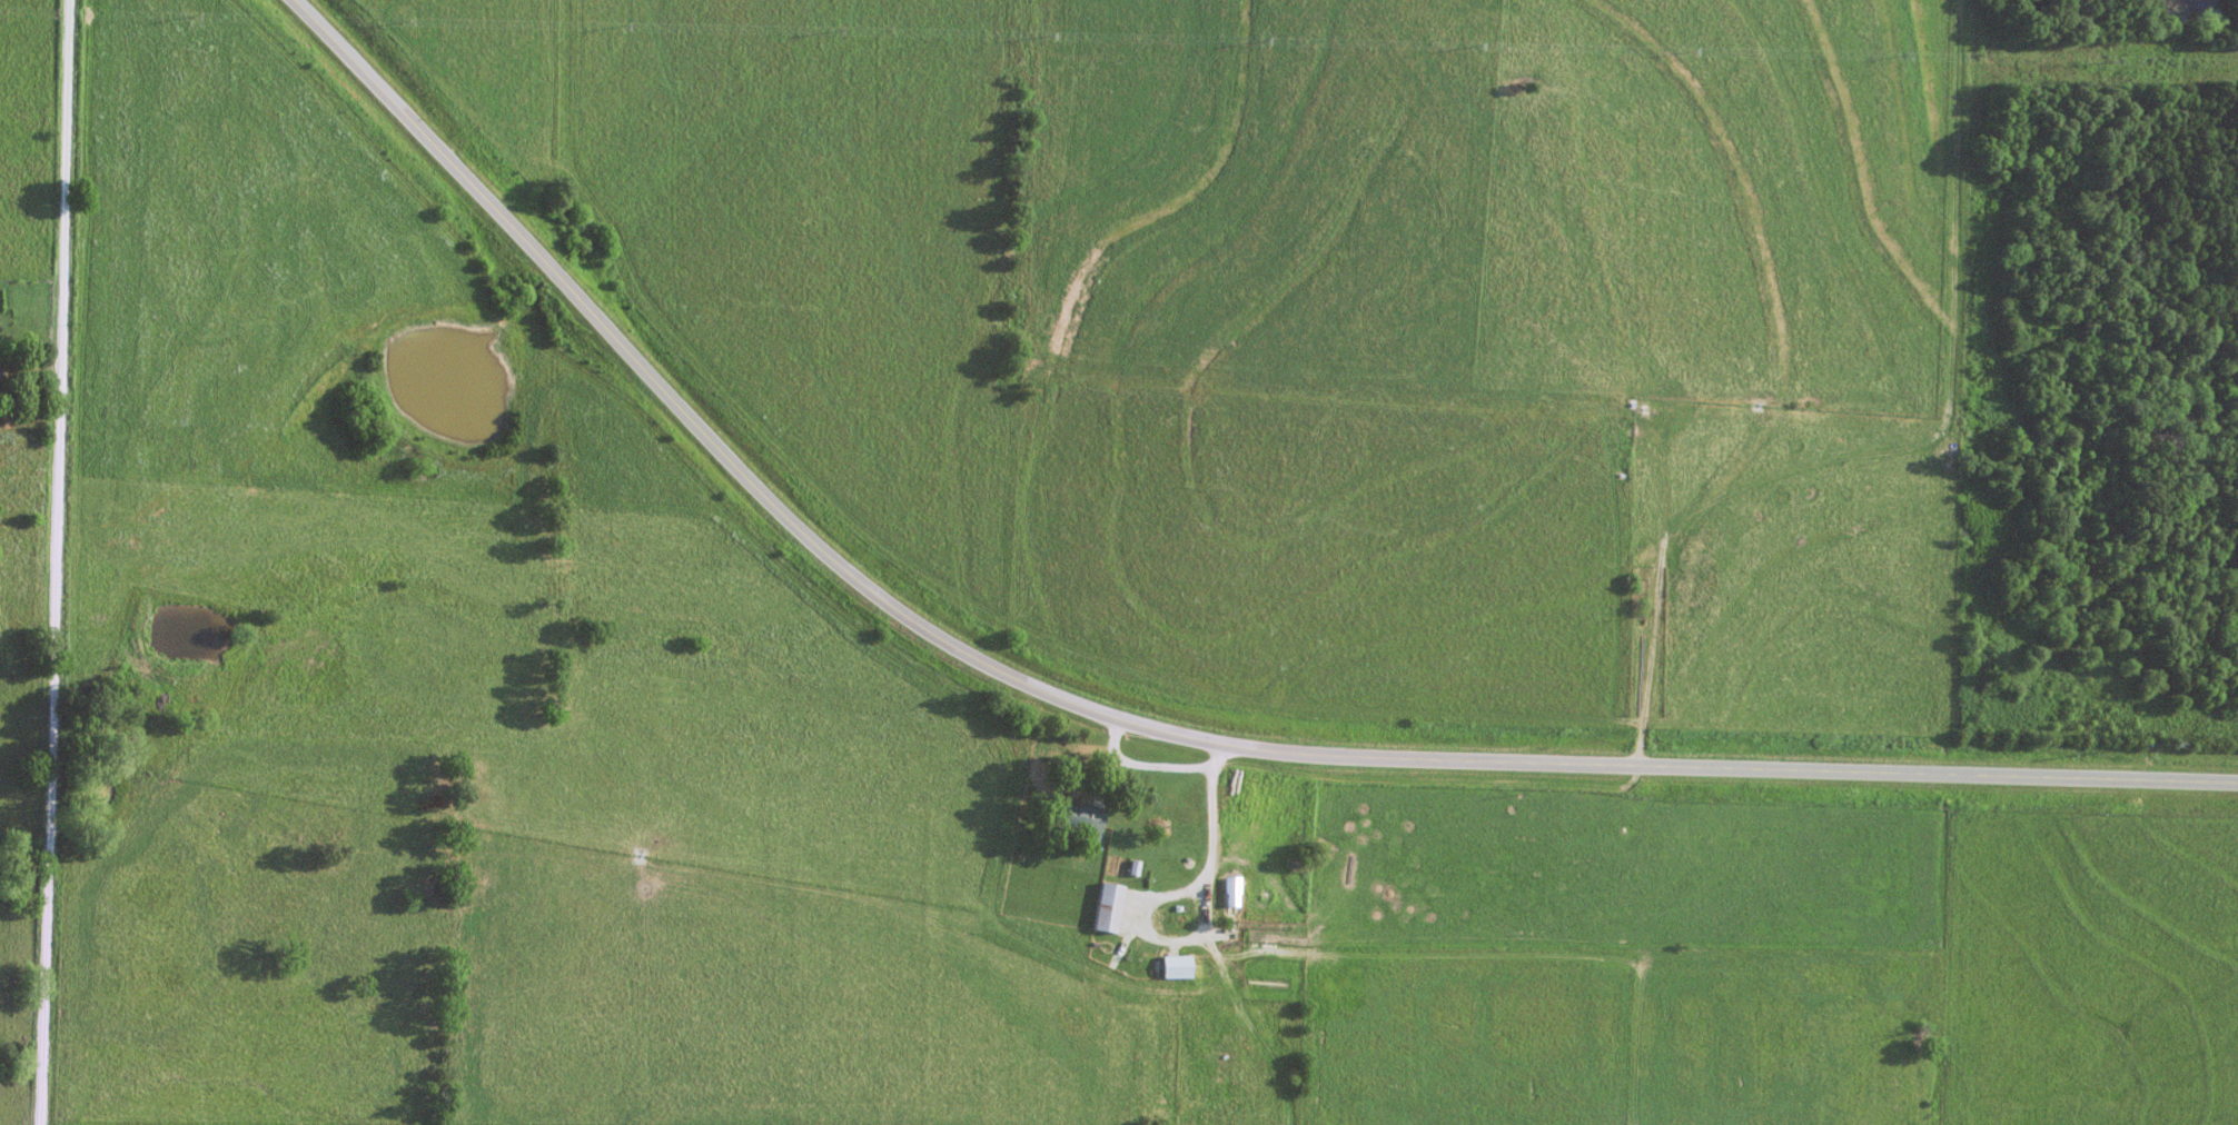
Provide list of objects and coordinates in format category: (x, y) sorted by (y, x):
building: (2, 369)
road: (60, 562)
road: (1126, 724)
road: (1148, 767)
building: (1071, 819)
road: (1217, 825)
building: (1228, 892)
building: (1102, 908)
building: (1174, 976)

